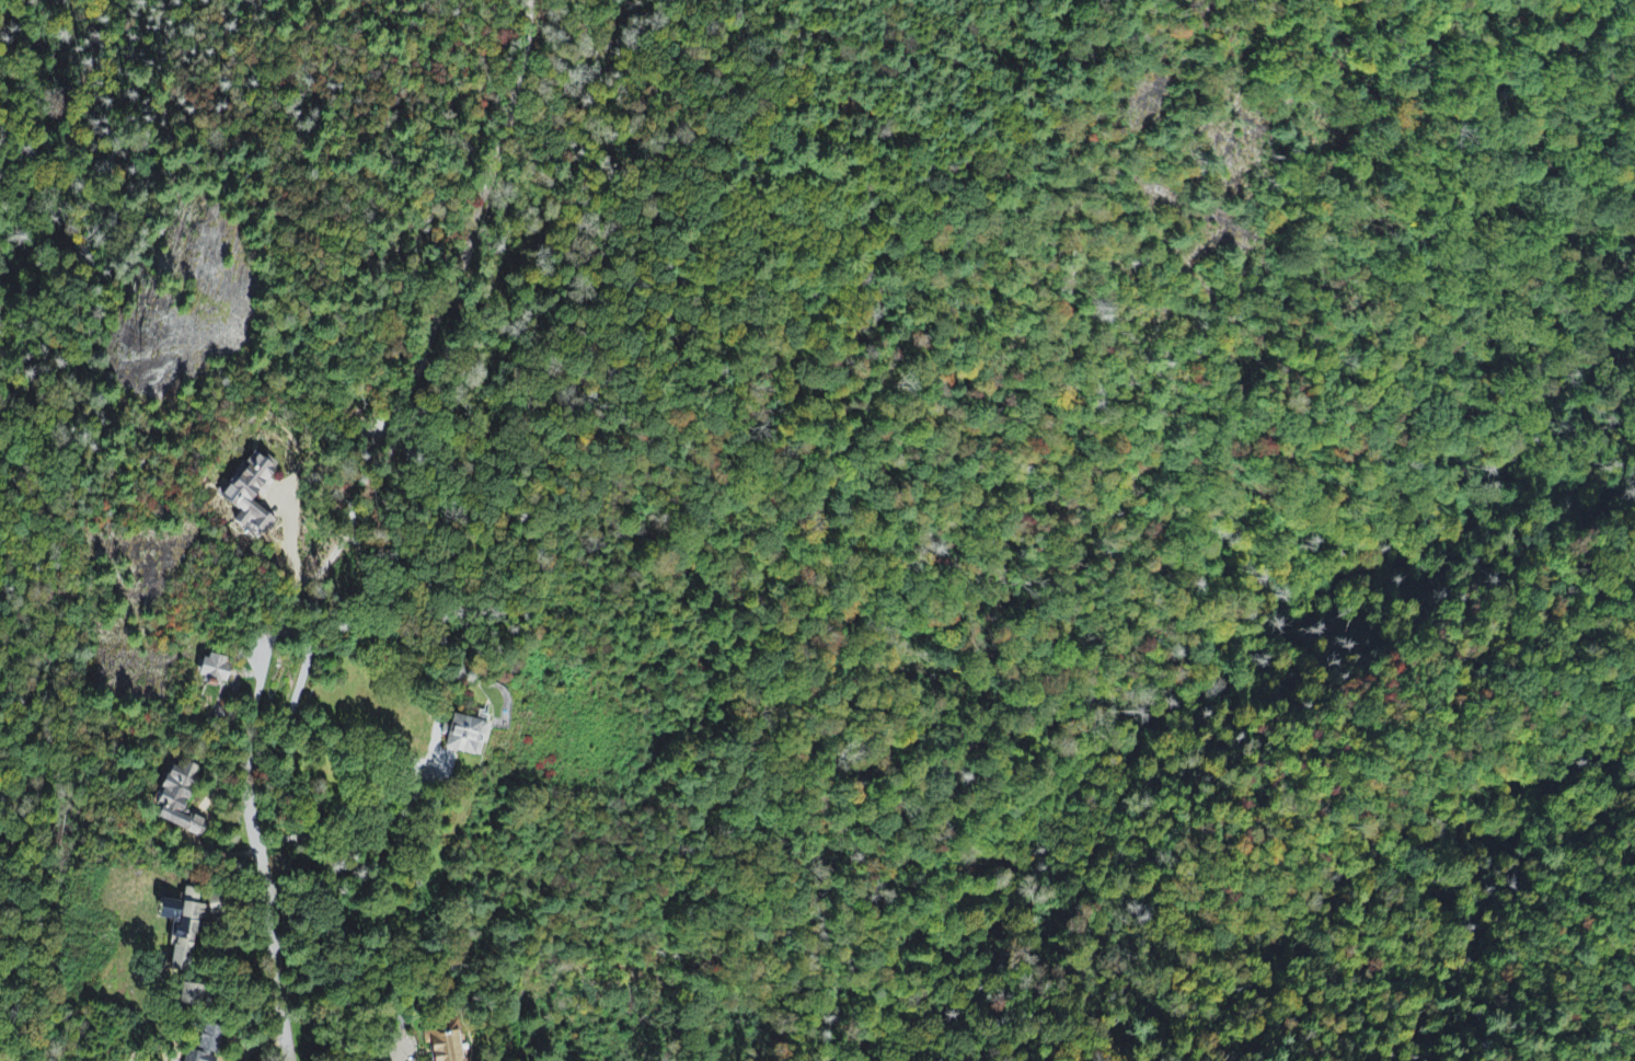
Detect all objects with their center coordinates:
road: (465, 210)
park: (532, 408)
building: (253, 496)
building: (216, 671)
road: (296, 694)
building: (465, 738)
building: (180, 801)
road: (256, 842)
building: (188, 929)
building: (194, 995)
building: (445, 1042)
building: (207, 1046)

